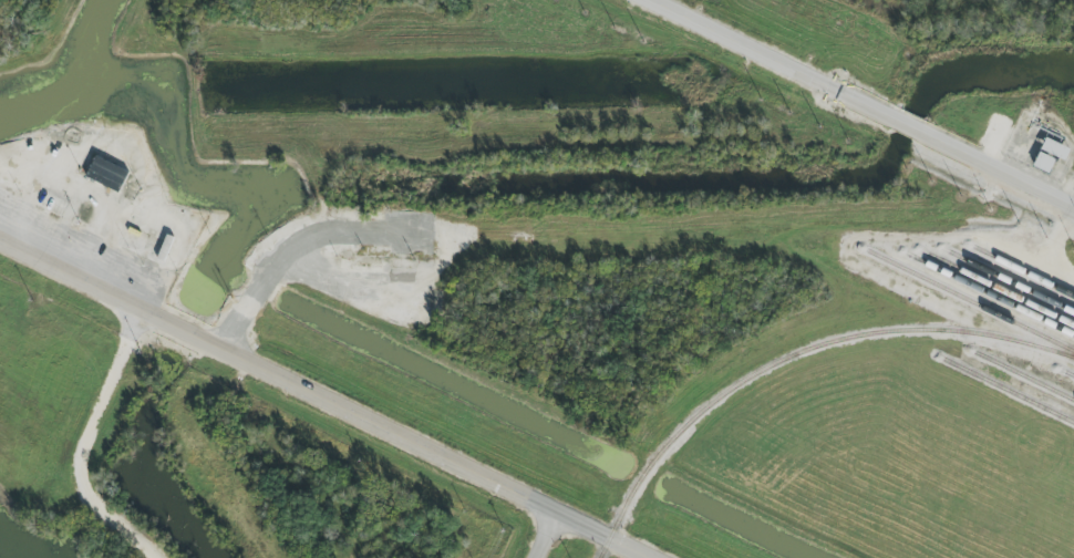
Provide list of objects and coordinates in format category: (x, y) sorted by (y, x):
road: (861, 103)
building: (104, 173)
railway: (1024, 270)
railway: (1011, 282)
railway: (998, 288)
railway: (990, 293)
railway: (970, 301)
railway: (793, 355)
railway: (1067, 372)
railway: (1024, 375)
railway: (1008, 391)
road: (323, 401)
road: (555, 537)

